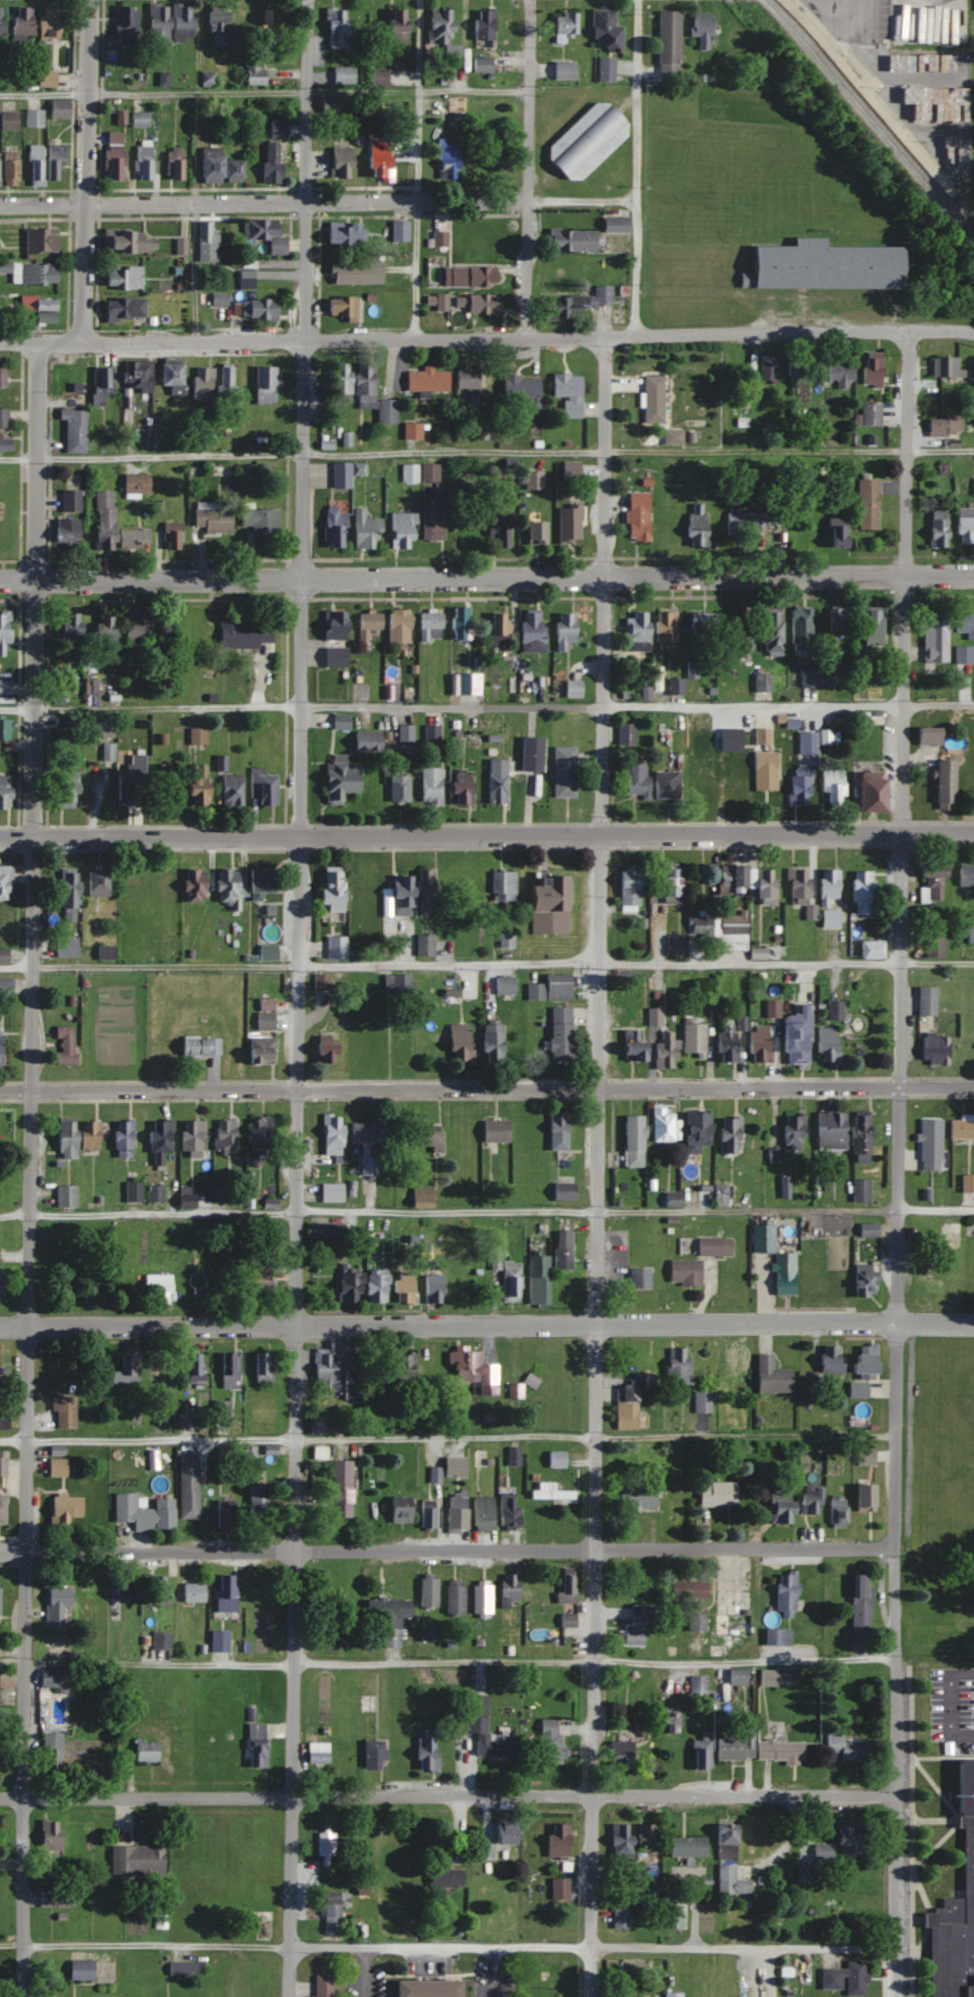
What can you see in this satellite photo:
building: (3, 20)
building: (53, 22)
building: (124, 22)
building: (25, 23)
building: (167, 23)
building: (270, 25)
building: (393, 26)
building: (562, 26)
building: (215, 28)
building: (335, 28)
building: (482, 28)
building: (699, 30)
building: (440, 32)
building: (604, 32)
building: (666, 45)
building: (481, 65)
building: (604, 69)
building: (561, 70)
building: (252, 71)
building: (341, 75)
road: (263, 91)
road: (417, 101)
building: (453, 104)
building: (328, 105)
railway: (865, 105)
building: (63, 109)
building: (36, 118)
building: (138, 119)
building: (276, 129)
building: (113, 137)
building: (583, 142)
building: (141, 160)
building: (445, 161)
building: (58, 163)
building: (111, 163)
building: (172, 163)
building: (338, 163)
building: (39, 165)
building: (269, 165)
building: (0, 166)
road: (633, 167)
building: (14, 168)
building: (376, 168)
building: (218, 169)
road: (525, 169)
road: (86, 171)
road: (316, 202)
building: (613, 225)
building: (398, 231)
building: (263, 234)
building: (340, 236)
building: (438, 239)
building: (569, 241)
building: (128, 242)
building: (43, 243)
building: (205, 243)
building: (179, 246)
building: (821, 265)
road: (415, 270)
road: (193, 271)
building: (33, 272)
building: (353, 273)
building: (468, 276)
building: (121, 278)
building: (245, 279)
building: (217, 300)
building: (439, 302)
building: (576, 304)
building: (479, 306)
building: (44, 308)
building: (123, 309)
building: (256, 309)
building: (339, 309)
building: (16, 319)
road: (487, 339)
building: (945, 366)
building: (794, 367)
building: (766, 370)
building: (835, 372)
building: (871, 372)
building: (138, 375)
building: (169, 376)
building: (4, 377)
building: (426, 379)
building: (224, 380)
building: (339, 381)
building: (200, 382)
building: (263, 384)
building: (468, 384)
building: (98, 386)
building: (521, 389)
building: (566, 392)
building: (369, 393)
building: (651, 398)
building: (869, 413)
building: (5, 418)
building: (943, 424)
building: (74, 429)
building: (670, 436)
building: (6, 444)
road: (486, 451)
building: (356, 468)
building: (568, 469)
building: (428, 471)
building: (339, 474)
building: (533, 479)
building: (69, 499)
building: (866, 502)
building: (635, 515)
building: (258, 518)
building: (430, 518)
building: (102, 519)
building: (211, 519)
building: (742, 520)
building: (566, 522)
building: (695, 523)
building: (964, 524)
building: (331, 526)
building: (936, 526)
building: (363, 528)
building: (400, 528)
building: (65, 529)
building: (6, 531)
building: (532, 531)
building: (169, 533)
building: (499, 533)
building: (834, 534)
building: (131, 537)
road: (486, 577)
building: (836, 620)
building: (963, 620)
building: (459, 622)
building: (495, 623)
building: (701, 623)
building: (332, 624)
building: (366, 624)
building: (396, 625)
building: (871, 625)
building: (428, 626)
building: (133, 627)
building: (798, 627)
building: (3, 628)
building: (103, 628)
building: (562, 629)
building: (635, 629)
building: (663, 629)
building: (68, 630)
building: (530, 631)
building: (769, 631)
building: (241, 633)
building: (932, 636)
building: (962, 654)
building: (333, 656)
building: (814, 676)
building: (762, 681)
building: (4, 686)
building: (467, 686)
building: (570, 688)
road: (487, 705)
building: (868, 717)
building: (339, 721)
building: (732, 726)
building: (3, 727)
building: (94, 728)
building: (404, 733)
building: (430, 733)
building: (625, 734)
building: (925, 735)
building: (364, 741)
building: (805, 742)
building: (106, 752)
building: (529, 753)
building: (762, 760)
building: (562, 771)
building: (337, 777)
building: (635, 779)
building: (127, 780)
building: (495, 780)
building: (194, 784)
building: (665, 784)
building: (942, 784)
building: (428, 785)
building: (262, 786)
building: (458, 787)
building: (63, 788)
building: (397, 788)
building: (797, 788)
building: (831, 788)
building: (229, 790)
building: (3, 791)
building: (867, 791)
road: (486, 835)
building: (731, 874)
building: (965, 874)
building: (159, 881)
building: (3, 882)
building: (929, 882)
building: (96, 883)
building: (190, 884)
building: (242, 884)
building: (502, 884)
building: (668, 884)
building: (797, 884)
building: (763, 885)
building: (827, 885)
building: (627, 887)
building: (423, 888)
building: (330, 889)
building: (860, 890)
building: (65, 891)
building: (400, 894)
building: (129, 896)
building: (546, 905)
building: (828, 917)
building: (731, 922)
building: (699, 924)
building: (505, 939)
building: (423, 944)
building: (933, 945)
building: (334, 946)
building: (64, 947)
building: (869, 948)
building: (266, 951)
building: (103, 952)
building: (6, 955)
road: (486, 963)
building: (320, 981)
building: (396, 984)
building: (502, 984)
building: (7, 985)
building: (549, 987)
building: (450, 995)
road: (297, 998)
building: (924, 1000)
building: (833, 1009)
building: (268, 1020)
building: (558, 1033)
building: (794, 1034)
building: (691, 1038)
building: (725, 1039)
building: (489, 1041)
building: (757, 1042)
building: (3, 1043)
building: (825, 1043)
building: (68, 1044)
building: (458, 1044)
building: (631, 1044)
building: (203, 1046)
building: (933, 1048)
building: (321, 1049)
building: (265, 1050)
building: (664, 1050)
road: (486, 1089)
building: (531, 1124)
building: (660, 1124)
building: (960, 1128)
building: (829, 1129)
building: (493, 1130)
building: (791, 1130)
building: (556, 1131)
building: (694, 1131)
building: (368, 1133)
building: (330, 1134)
building: (227, 1135)
building: (727, 1135)
building: (195, 1137)
building: (858, 1138)
building: (127, 1139)
building: (163, 1140)
building: (262, 1140)
building: (427, 1141)
building: (631, 1141)
building: (928, 1144)
road: (898, 1163)
building: (366, 1165)
road: (595, 1167)
road: (31, 1169)
building: (967, 1183)
building: (859, 1190)
building: (136, 1191)
building: (562, 1191)
building: (331, 1192)
building: (157, 1193)
building: (721, 1195)
building: (69, 1196)
building: (420, 1197)
building: (670, 1199)
road: (486, 1209)
building: (866, 1229)
building: (326, 1232)
building: (761, 1238)
building: (712, 1246)
building: (561, 1248)
building: (0, 1254)
building: (494, 1256)
building: (840, 1265)
building: (79, 1266)
building: (683, 1271)
building: (783, 1273)
building: (261, 1277)
building: (638, 1277)
building: (537, 1279)
building: (863, 1279)
building: (508, 1281)
building: (3, 1282)
building: (163, 1286)
building: (347, 1287)
building: (373, 1287)
building: (400, 1287)
building: (430, 1288)
road: (487, 1324)
building: (732, 1358)
building: (830, 1358)
building: (166, 1363)
building: (863, 1364)
building: (675, 1365)
building: (266, 1366)
building: (198, 1368)
building: (338, 1368)
building: (233, 1369)
building: (403, 1369)
building: (130, 1370)
building: (471, 1370)
building: (770, 1375)
building: (3, 1378)
building: (857, 1389)
building: (514, 1390)
building: (701, 1401)
building: (624, 1407)
building: (223, 1408)
building: (67, 1411)
building: (319, 1425)
road: (447, 1437)
building: (512, 1455)
building: (862, 1455)
building: (554, 1459)
building: (4, 1464)
building: (454, 1466)
building: (60, 1467)
building: (191, 1486)
building: (345, 1489)
building: (548, 1492)
building: (716, 1492)
building: (636, 1497)
building: (862, 1497)
building: (808, 1500)
building: (261, 1507)
building: (779, 1507)
building: (68, 1508)
building: (4, 1509)
building: (507, 1510)
building: (147, 1512)
building: (399, 1512)
building: (455, 1512)
building: (837, 1512)
building: (426, 1513)
building: (481, 1513)
building: (229, 1516)
road: (446, 1550)
building: (130, 1587)
building: (508, 1589)
building: (687, 1589)
building: (565, 1590)
building: (160, 1591)
building: (427, 1591)
building: (196, 1592)
building: (230, 1593)
building: (784, 1593)
building: (454, 1597)
building: (480, 1598)
building: (1, 1601)
building: (60, 1604)
building: (859, 1604)
building: (934, 1611)
building: (389, 1614)
building: (330, 1617)
building: (566, 1619)
building: (694, 1622)
building: (634, 1624)
building: (719, 1630)
building: (426, 1632)
building: (775, 1637)
building: (164, 1640)
building: (222, 1640)
road: (448, 1662)
building: (0, 1677)
building: (57, 1677)
building: (736, 1677)
building: (766, 1677)
building: (696, 1684)
building: (370, 1703)
building: (482, 1730)
building: (547, 1742)
building: (260, 1744)
building: (844, 1746)
building: (733, 1748)
building: (149, 1750)
building: (54, 1751)
building: (779, 1751)
building: (321, 1752)
building: (425, 1753)
building: (699, 1754)
building: (377, 1755)
building: (619, 1755)
road: (448, 1795)
building: (505, 1834)
building: (643, 1835)
building: (54, 1837)
building: (555, 1841)
building: (724, 1842)
building: (618, 1843)
building: (846, 1844)
building: (685, 1846)
building: (484, 1851)
building: (820, 1851)
building: (324, 1857)
building: (141, 1862)
building: (450, 1877)
building: (729, 1880)
building: (557, 1888)
building: (59, 1898)
building: (955, 1908)
building: (255, 1910)
building: (335, 1912)
building: (672, 1914)
building: (619, 1916)
road: (448, 1945)
building: (189, 1968)
building: (85, 1969)
road: (363, 1971)
road: (492, 1971)
building: (843, 1978)
building: (327, 1986)
building: (425, 1988)
building: (671, 1994)

